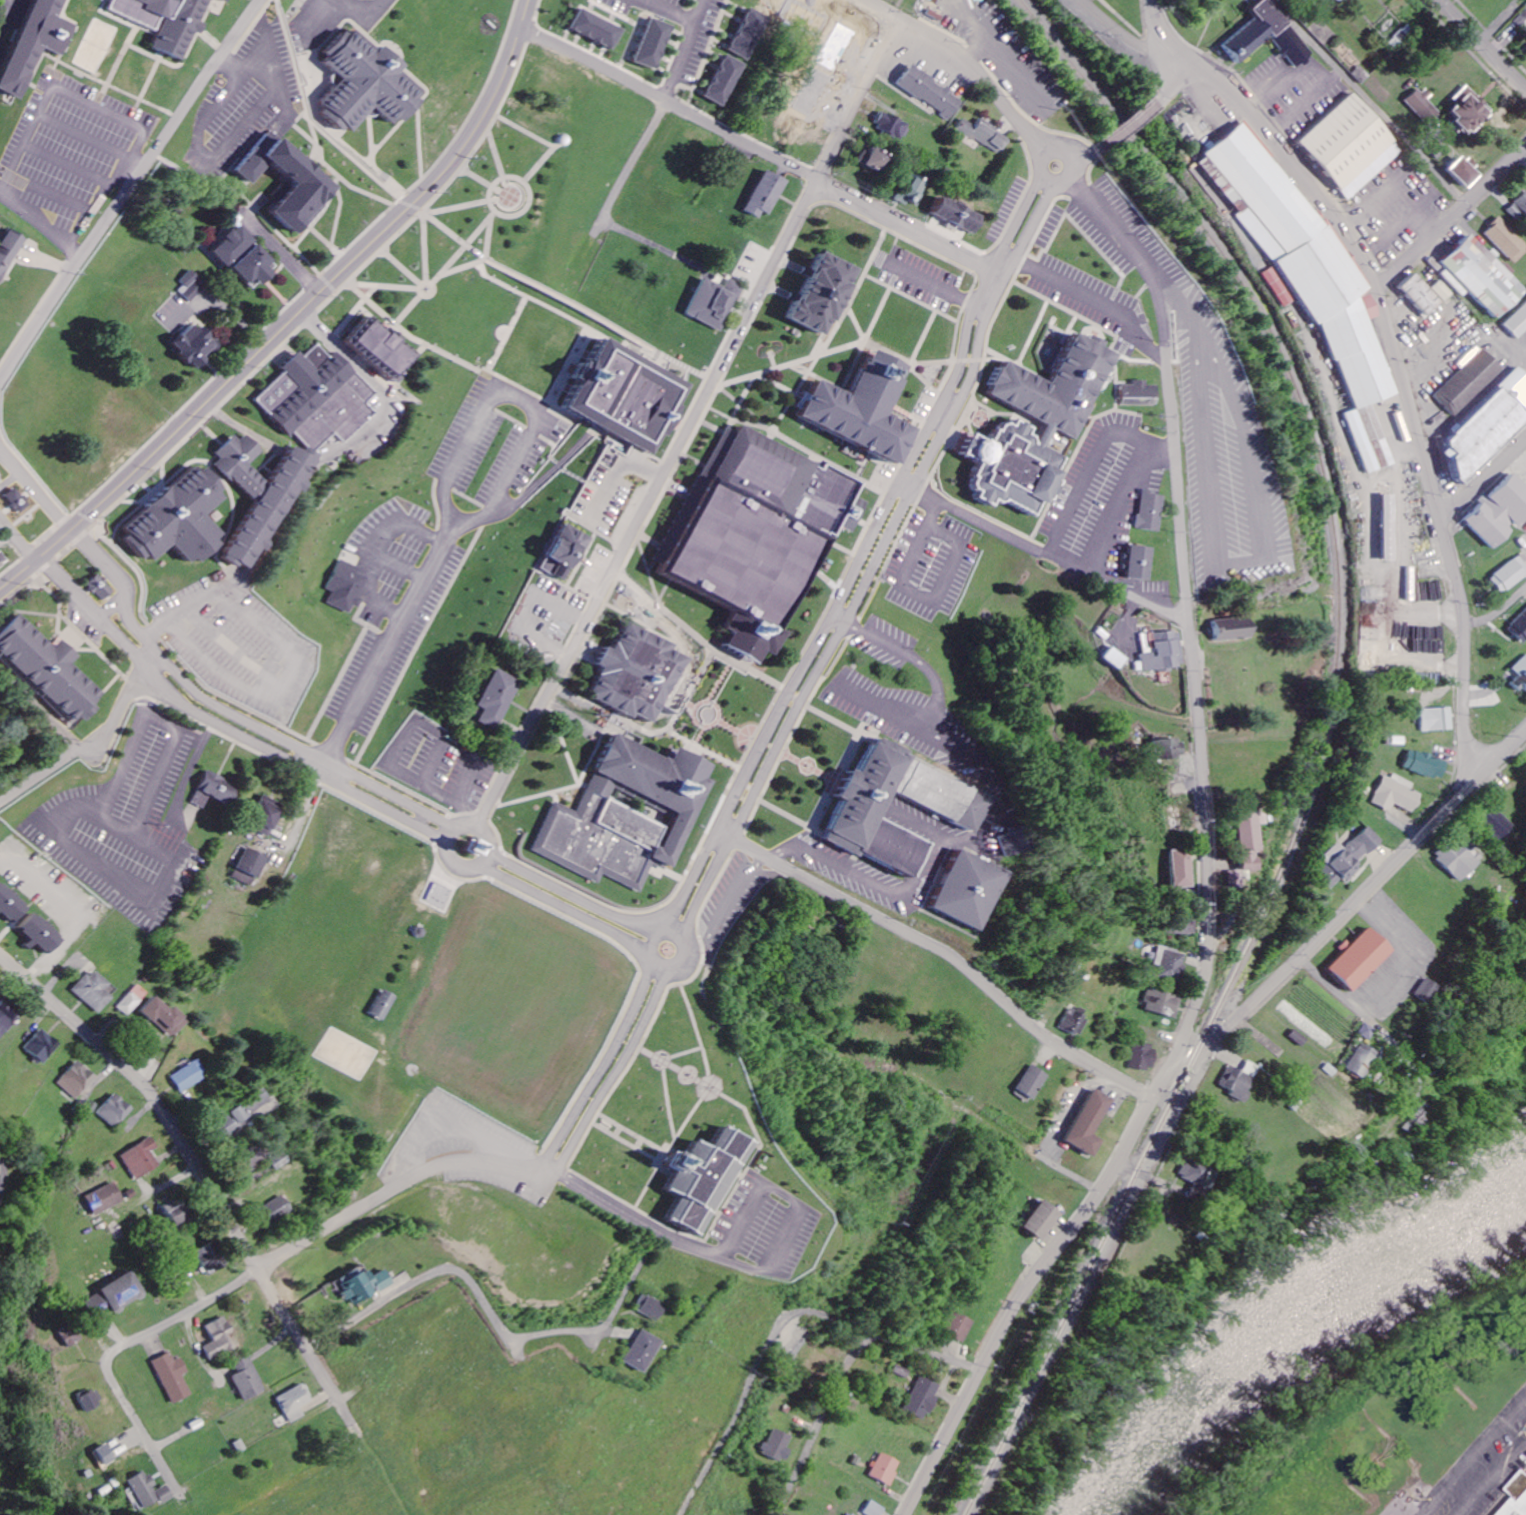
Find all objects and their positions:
building: (220, 0)
building: (1338, 0)
parking lot: (357, 10)
road: (667, 10)
road: (6, 14)
road: (362, 15)
building: (161, 21)
road: (638, 25)
road: (254, 26)
building: (596, 28)
building: (750, 33)
road: (1131, 39)
building: (1270, 39)
building: (31, 42)
road: (1484, 43)
building: (653, 44)
road: (190, 47)
park: (99, 50)
road: (681, 50)
road: (257, 54)
road: (596, 56)
road: (294, 60)
road: (968, 60)
road: (120, 62)
road: (1176, 78)
building: (725, 80)
building: (362, 81)
building: (823, 81)
road: (61, 90)
road: (512, 90)
parking lot: (1296, 92)
parking lot: (247, 97)
building: (937, 100)
building: (589, 102)
building: (1425, 105)
road: (159, 108)
road: (478, 108)
building: (1471, 110)
road: (1131, 118)
building: (894, 127)
building: (982, 133)
road: (86, 137)
road: (548, 144)
road: (1061, 146)
road: (828, 147)
road: (758, 148)
road: (224, 149)
road: (1087, 149)
parking lot: (73, 151)
building: (690, 151)
building: (1353, 151)
road: (498, 154)
building: (873, 159)
road: (137, 164)
road: (71, 165)
building: (1467, 171)
road: (481, 178)
road: (510, 178)
building: (307, 186)
road: (338, 187)
road: (129, 189)
road: (394, 190)
building: (907, 190)
road: (364, 192)
road: (55, 194)
building: (761, 194)
road: (615, 202)
road: (101, 203)
road: (459, 207)
building: (1519, 209)
building: (953, 215)
road: (338, 218)
road: (1450, 218)
road: (42, 222)
road: (485, 228)
building: (1508, 240)
road: (328, 242)
building: (229, 246)
building: (9, 250)
road: (286, 259)
building: (249, 266)
road: (450, 267)
building: (1309, 267)
road: (330, 269)
road: (407, 270)
road: (1002, 272)
building: (1483, 277)
parking lot: (921, 280)
road: (332, 285)
road: (930, 285)
building: (190, 287)
road: (390, 287)
road: (551, 292)
building: (816, 294)
building: (1427, 294)
building: (712, 301)
road: (1098, 301)
road: (418, 302)
road: (922, 305)
road: (1189, 310)
road: (842, 316)
road: (294, 317)
road: (947, 317)
building: (1519, 324)
road: (856, 325)
building: (191, 346)
building: (378, 346)
road: (437, 350)
road: (887, 353)
road: (820, 355)
road: (571, 356)
road: (665, 356)
road: (1397, 357)
road: (366, 373)
road: (807, 375)
building: (1470, 382)
road: (781, 387)
building: (1136, 394)
building: (628, 395)
building: (317, 398)
building: (860, 407)
road: (688, 424)
road: (238, 426)
building: (1058, 426)
building: (1490, 428)
road: (798, 445)
road: (164, 460)
building: (237, 465)
road: (1093, 470)
road: (617, 474)
road: (1483, 479)
road: (10, 481)
road: (443, 489)
road: (36, 490)
building: (16, 500)
road: (1121, 502)
building: (266, 507)
building: (1146, 512)
building: (1501, 512)
building: (174, 520)
building: (1389, 528)
building: (758, 535)
parking lot: (440, 536)
road: (18, 539)
road: (897, 543)
building: (563, 552)
road: (1044, 552)
road: (859, 556)
building: (3, 560)
road: (1244, 562)
building: (1134, 563)
road: (872, 565)
parking lot: (930, 567)
building: (1510, 575)
building: (100, 587)
building: (341, 587)
road: (57, 596)
road: (918, 597)
road: (523, 609)
road: (1500, 612)
road: (1189, 613)
road: (1129, 621)
building: (1520, 628)
building: (1235, 629)
road: (80, 634)
road: (697, 639)
parking lot: (240, 646)
building: (1161, 652)
road: (294, 659)
building: (1114, 659)
building: (43, 667)
building: (634, 676)
building: (1521, 678)
road: (130, 679)
building: (495, 696)
road: (125, 708)
road: (40, 711)
road: (233, 716)
building: (1438, 720)
road: (423, 723)
road: (224, 727)
building: (1169, 750)
railway: (1325, 750)
building: (1427, 765)
parking lot: (441, 766)
road: (189, 770)
road: (499, 773)
road: (40, 774)
road: (837, 780)
road: (579, 785)
building: (213, 789)
building: (1398, 794)
road: (305, 804)
building: (949, 807)
building: (625, 814)
building: (262, 817)
road: (985, 824)
building: (1495, 824)
parking lot: (129, 826)
road: (465, 828)
road: (62, 842)
building: (1008, 844)
road: (502, 845)
building: (1246, 845)
building: (474, 849)
building: (1350, 858)
building: (1459, 859)
building: (244, 869)
building: (1182, 869)
road: (484, 878)
building: (962, 892)
road: (568, 894)
building: (11, 905)
road: (725, 907)
road: (557, 908)
building: (1186, 928)
road: (659, 931)
building: (41, 934)
road: (942, 951)
road: (695, 955)
building: (1361, 959)
building: (1171, 964)
building: (1426, 991)
building: (94, 992)
building: (133, 1000)
building: (1164, 1004)
building: (373, 1006)
building: (165, 1018)
building: (6, 1022)
building: (1073, 1023)
road: (1383, 1035)
road: (685, 1037)
building: (44, 1047)
building: (1145, 1058)
building: (1361, 1061)
road: (590, 1064)
road: (608, 1071)
building: (188, 1077)
building: (78, 1081)
road: (1163, 1081)
building: (1240, 1081)
building: (1032, 1082)
road: (724, 1101)
building: (255, 1102)
building: (115, 1112)
building: (233, 1121)
building: (1090, 1124)
road: (627, 1133)
road: (622, 1143)
building: (250, 1158)
building: (141, 1160)
building: (1197, 1174)
building: (698, 1176)
road: (396, 1183)
building: (104, 1200)
road: (217, 1203)
building: (274, 1212)
building: (175, 1214)
building: (1043, 1221)
parking lot: (767, 1225)
building: (208, 1260)
road: (749, 1269)
road: (462, 1275)
building: (115, 1296)
building: (650, 1308)
river: (1271, 1310)
building: (952, 1327)
building: (67, 1337)
building: (218, 1339)
building: (640, 1352)
road: (926, 1352)
road: (111, 1361)
road: (751, 1372)
building: (173, 1378)
building: (247, 1380)
building: (920, 1399)
building: (91, 1402)
building: (294, 1404)
road: (818, 1421)
building: (778, 1445)
building: (103, 1454)
road: (1471, 1459)
building: (884, 1469)
building: (147, 1490)
building: (1519, 1495)
building: (874, 1509)
building: (784, 1514)
building: (849, 1514)

